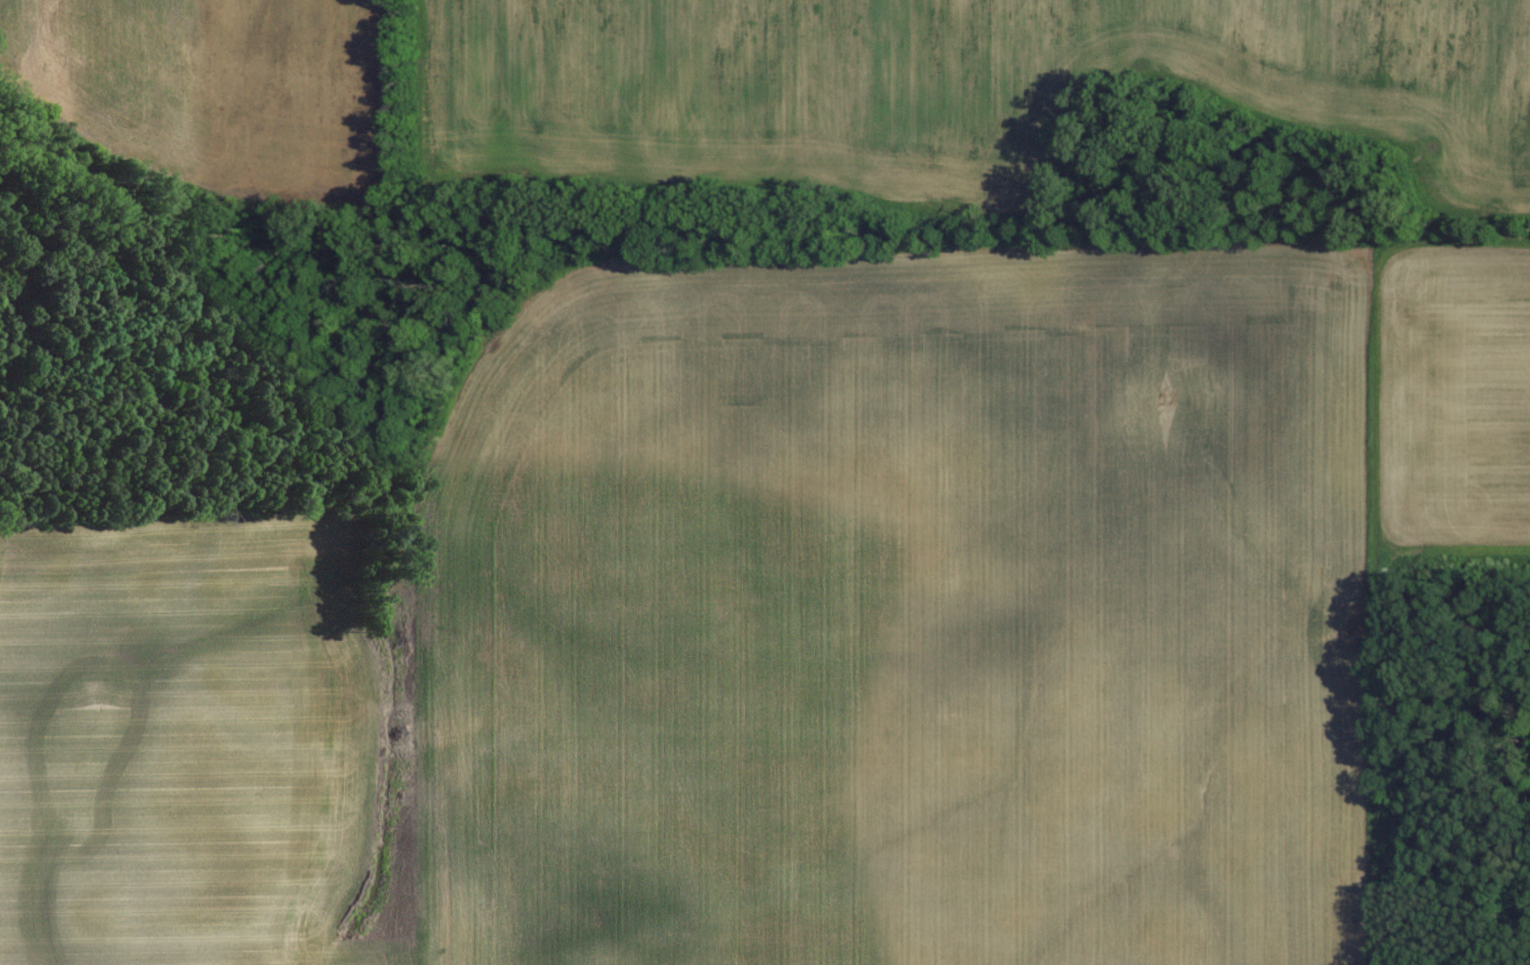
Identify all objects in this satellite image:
road: (1375, 530)

